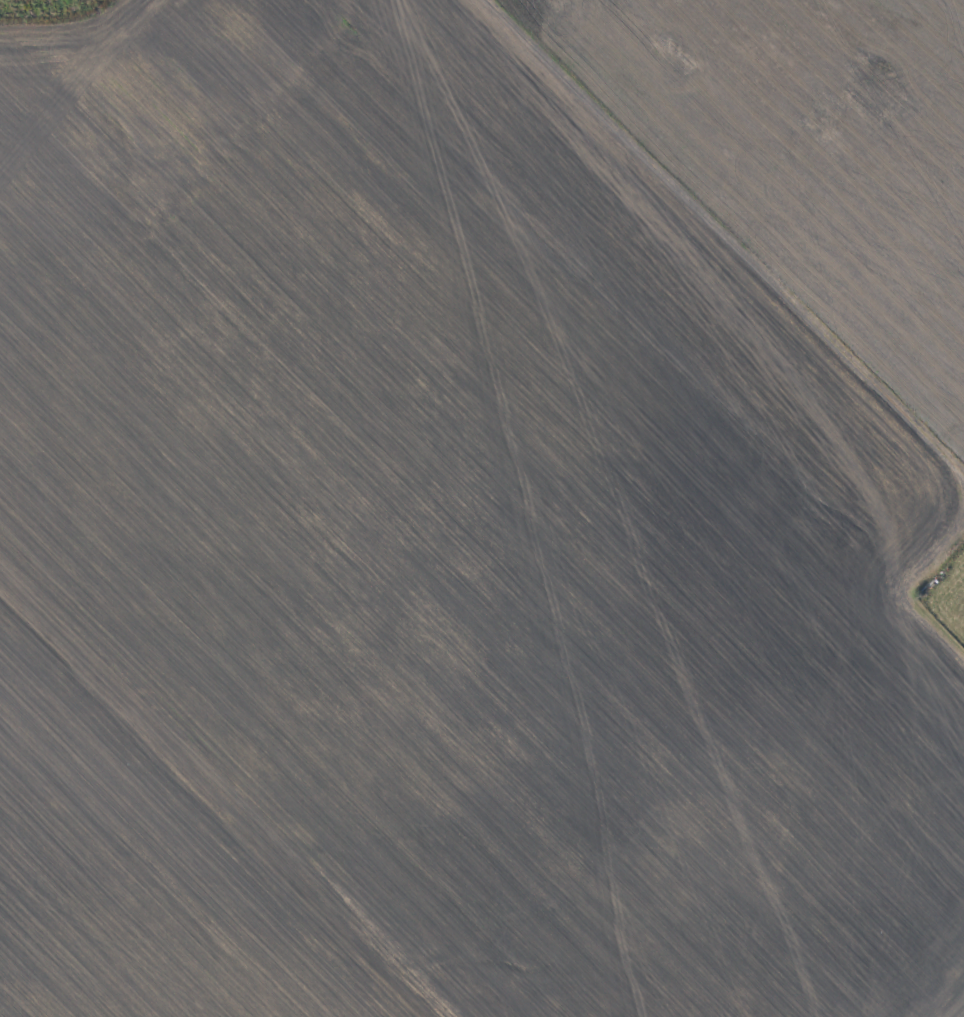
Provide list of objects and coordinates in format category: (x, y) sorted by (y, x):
road: (725, 238)

